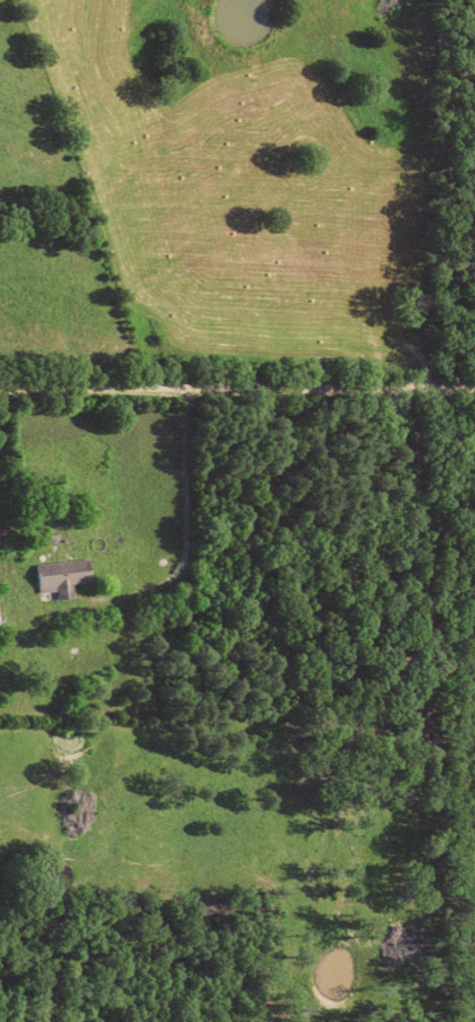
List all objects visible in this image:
road: (95, 192)
road: (237, 387)
road: (188, 531)
building: (65, 578)
building: (0, 622)

